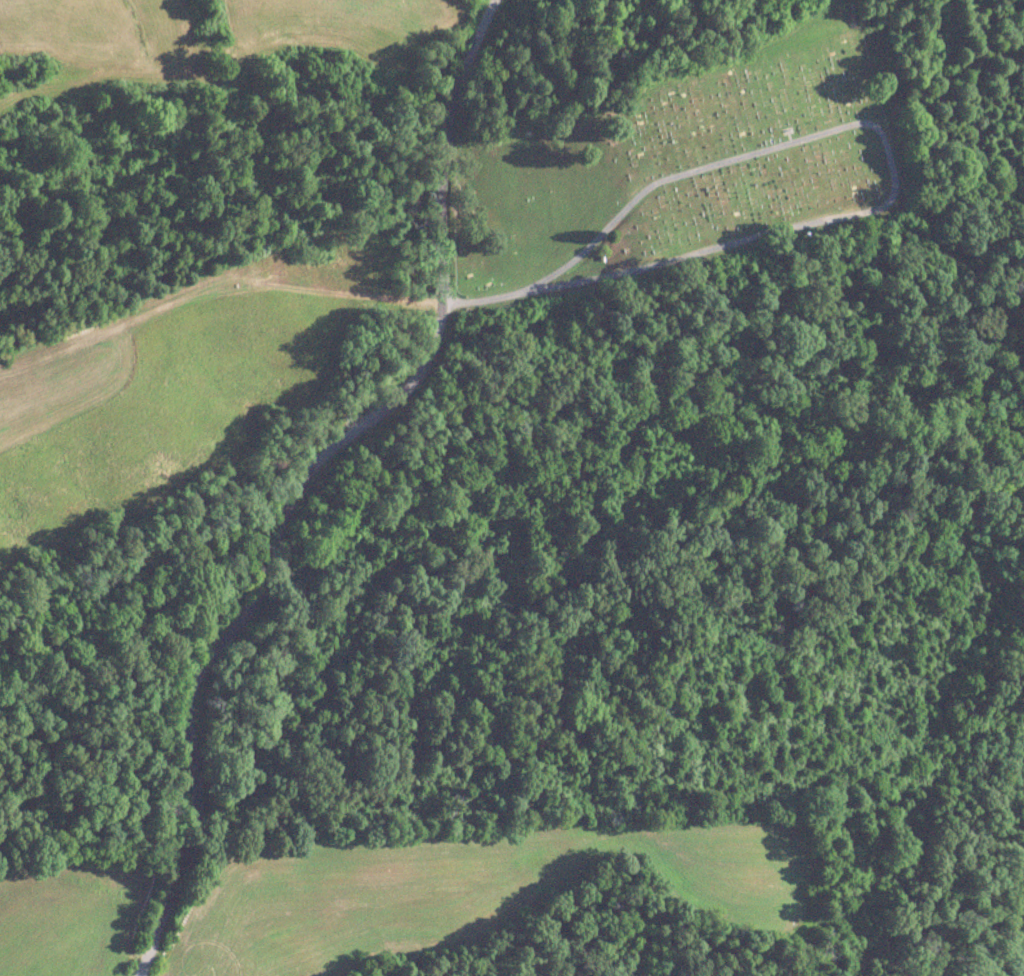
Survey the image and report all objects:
road: (295, 485)

